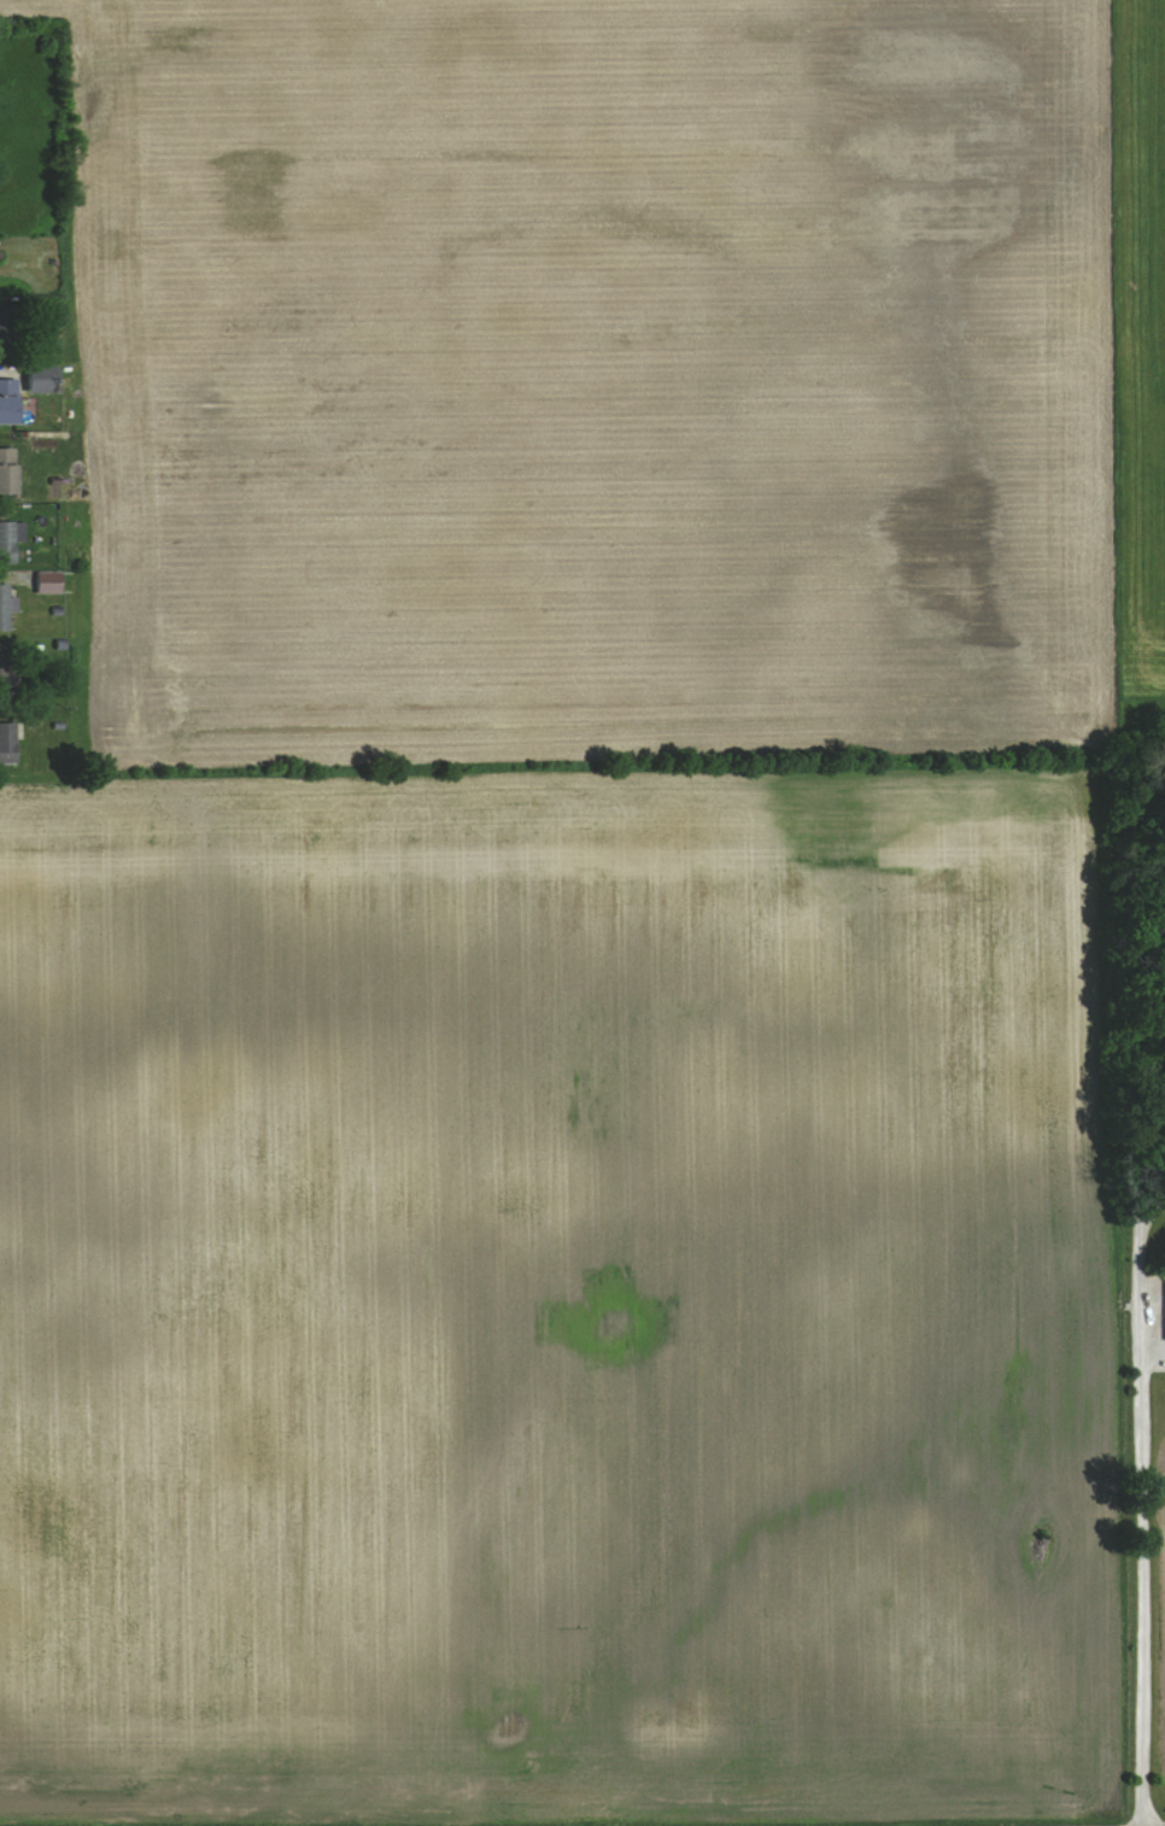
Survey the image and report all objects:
building: (6, 330)
building: (41, 380)
building: (7, 402)
building: (7, 472)
building: (10, 540)
building: (48, 584)
building: (4, 608)
building: (5, 678)
building: (7, 744)
road: (1140, 1161)
road: (1151, 1211)
road: (1141, 1528)

